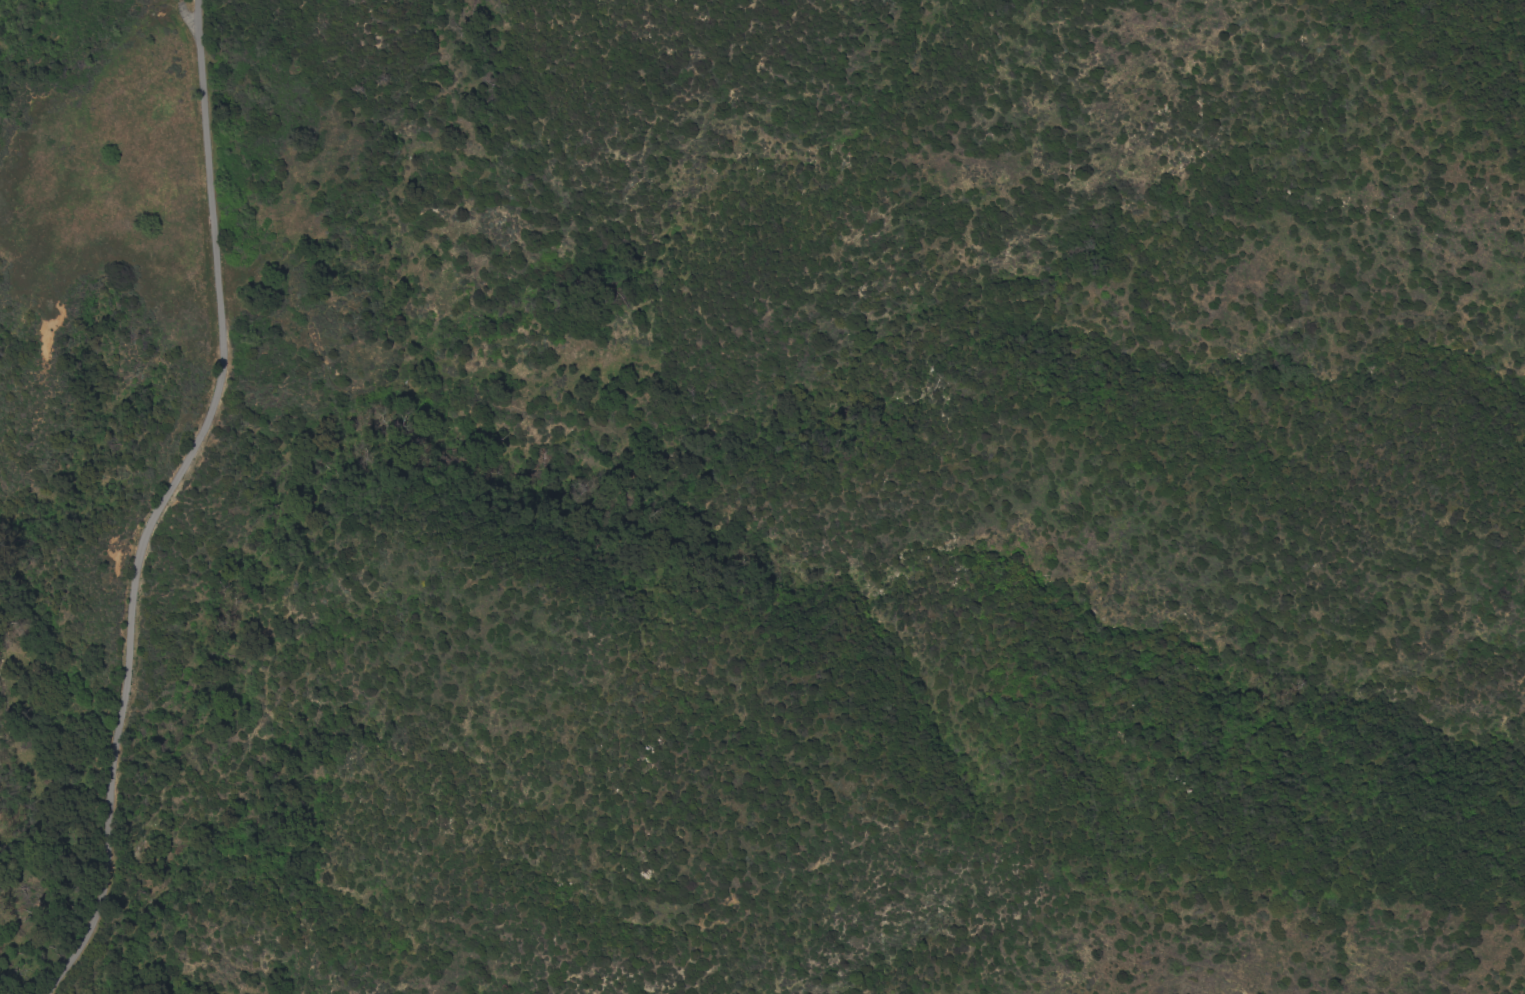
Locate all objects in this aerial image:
park: (138, 12)
road: (186, 17)
road: (1397, 130)
road: (166, 504)

